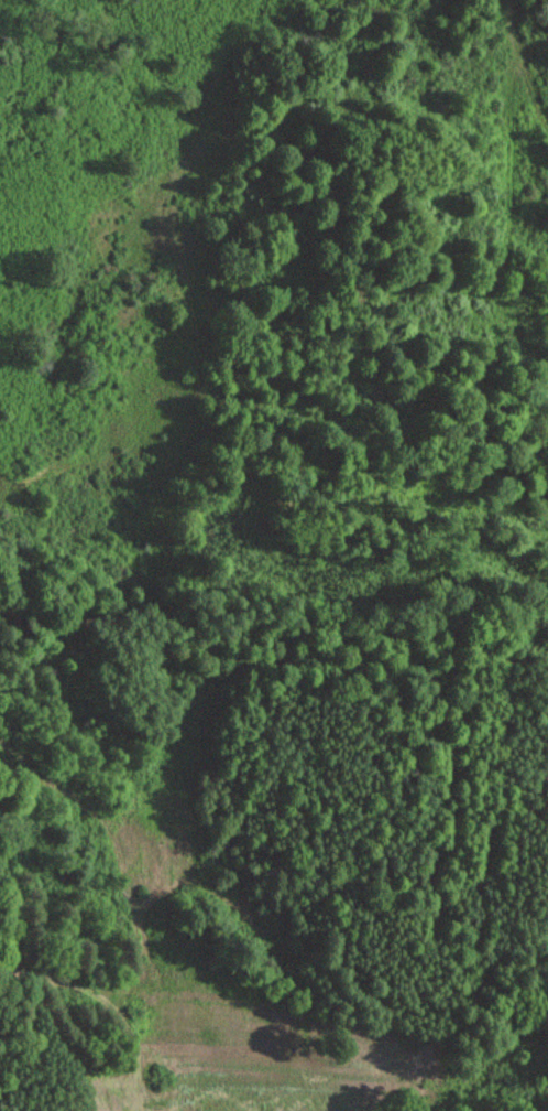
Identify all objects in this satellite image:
road: (274, 619)

